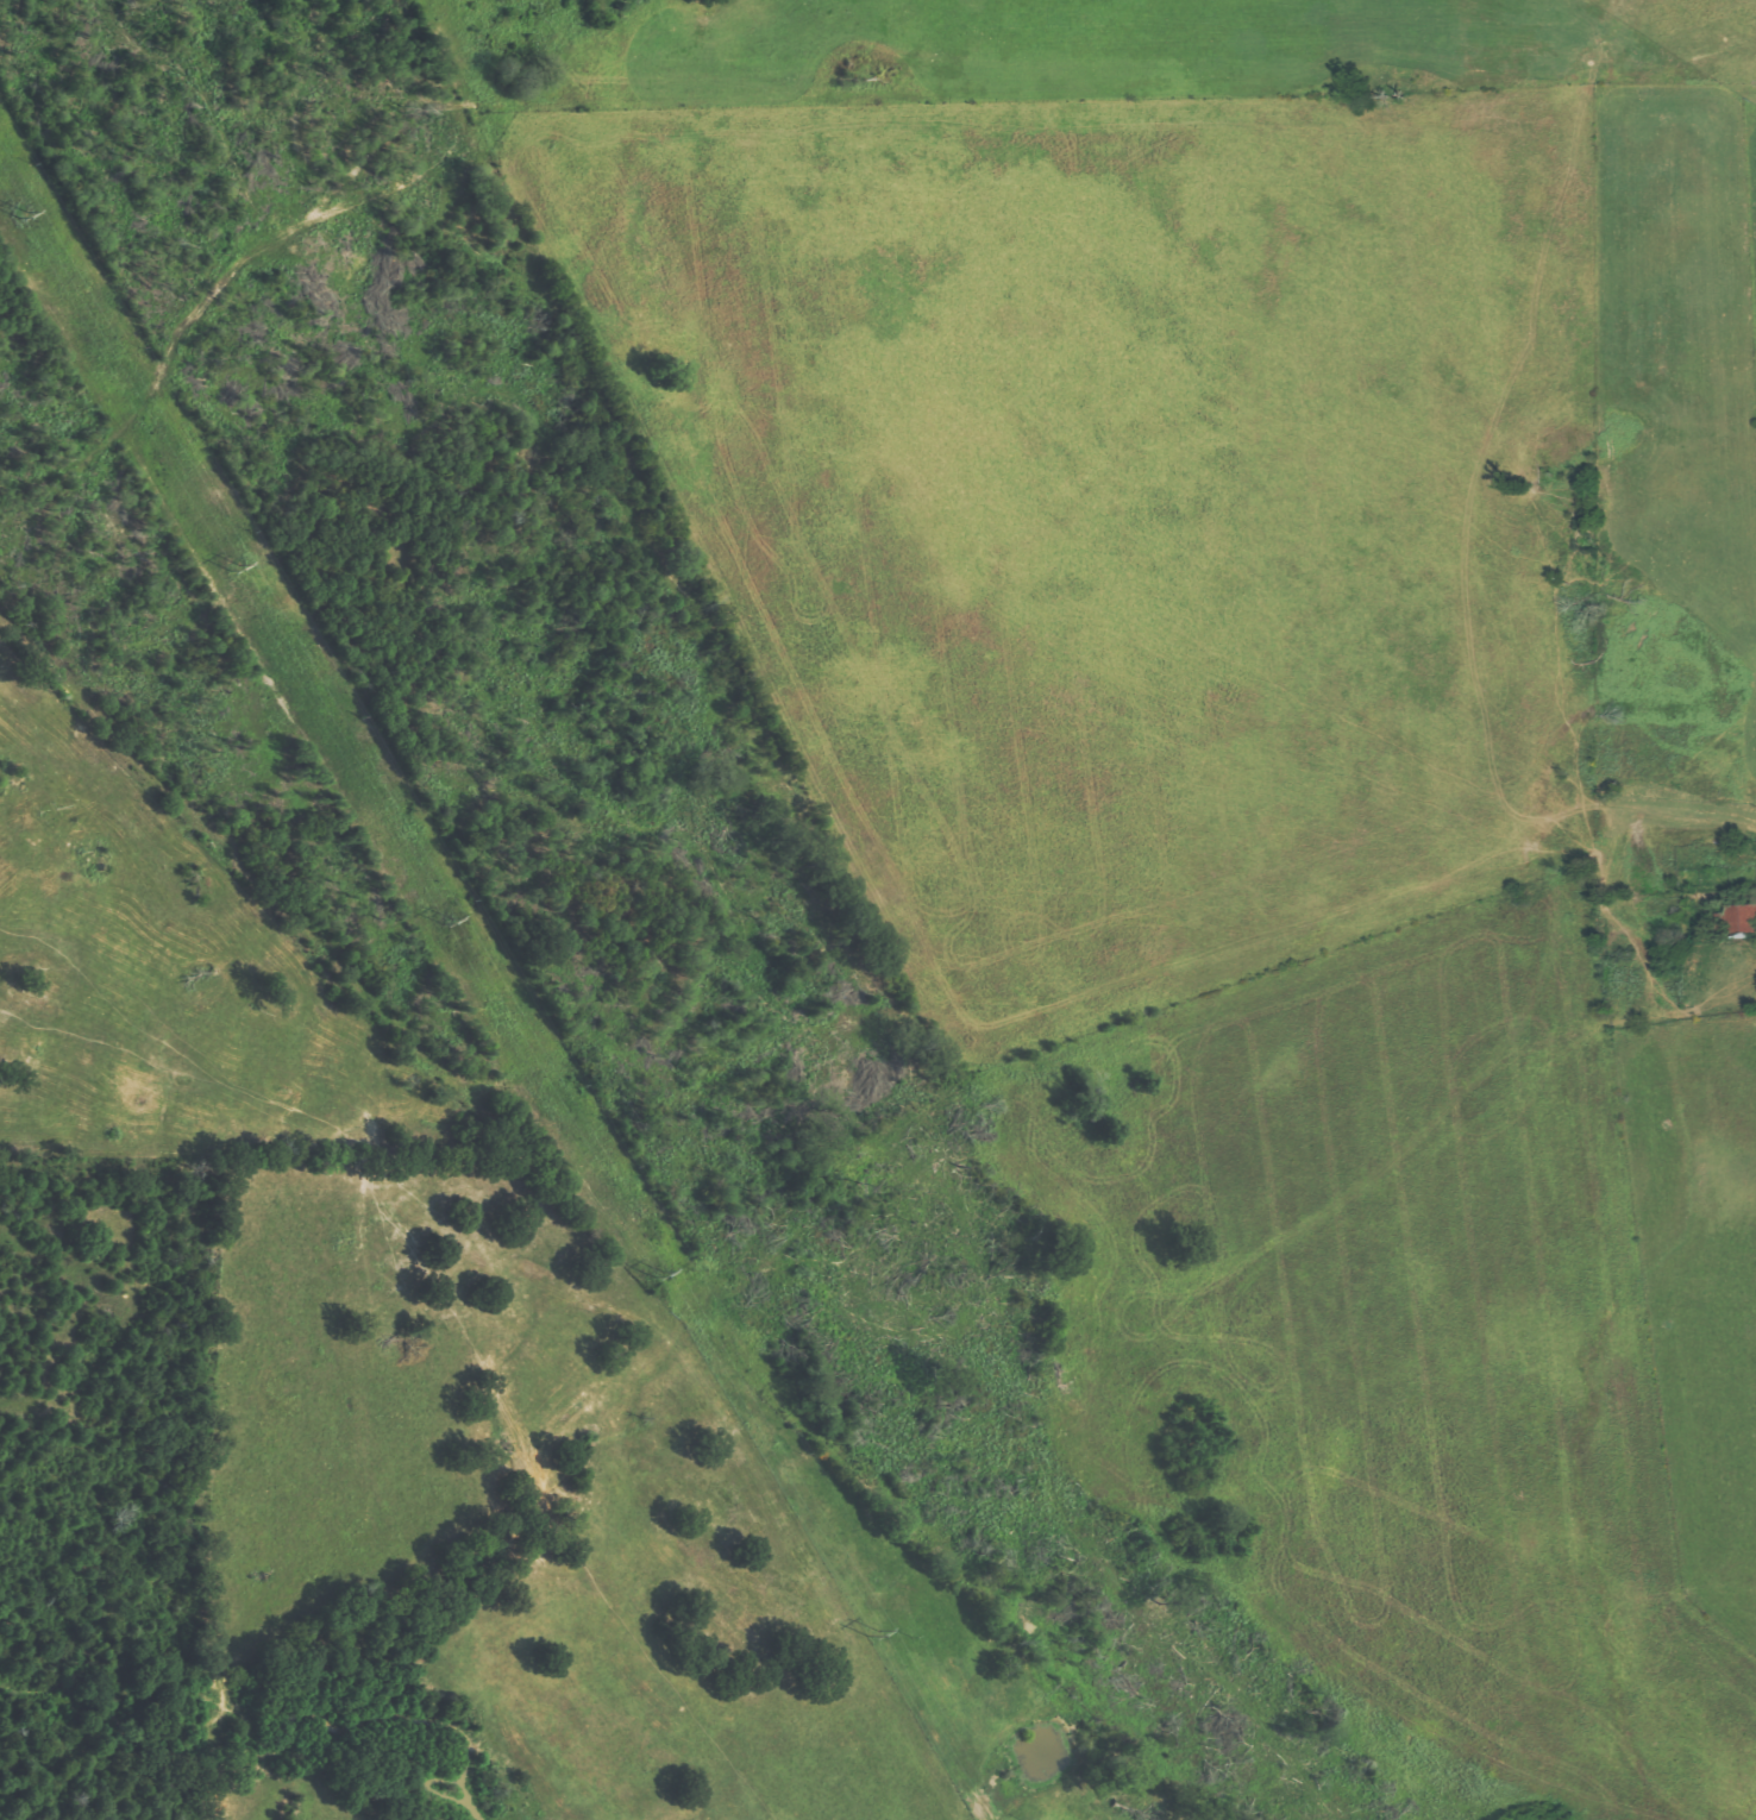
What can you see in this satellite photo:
building: (1739, 917)

